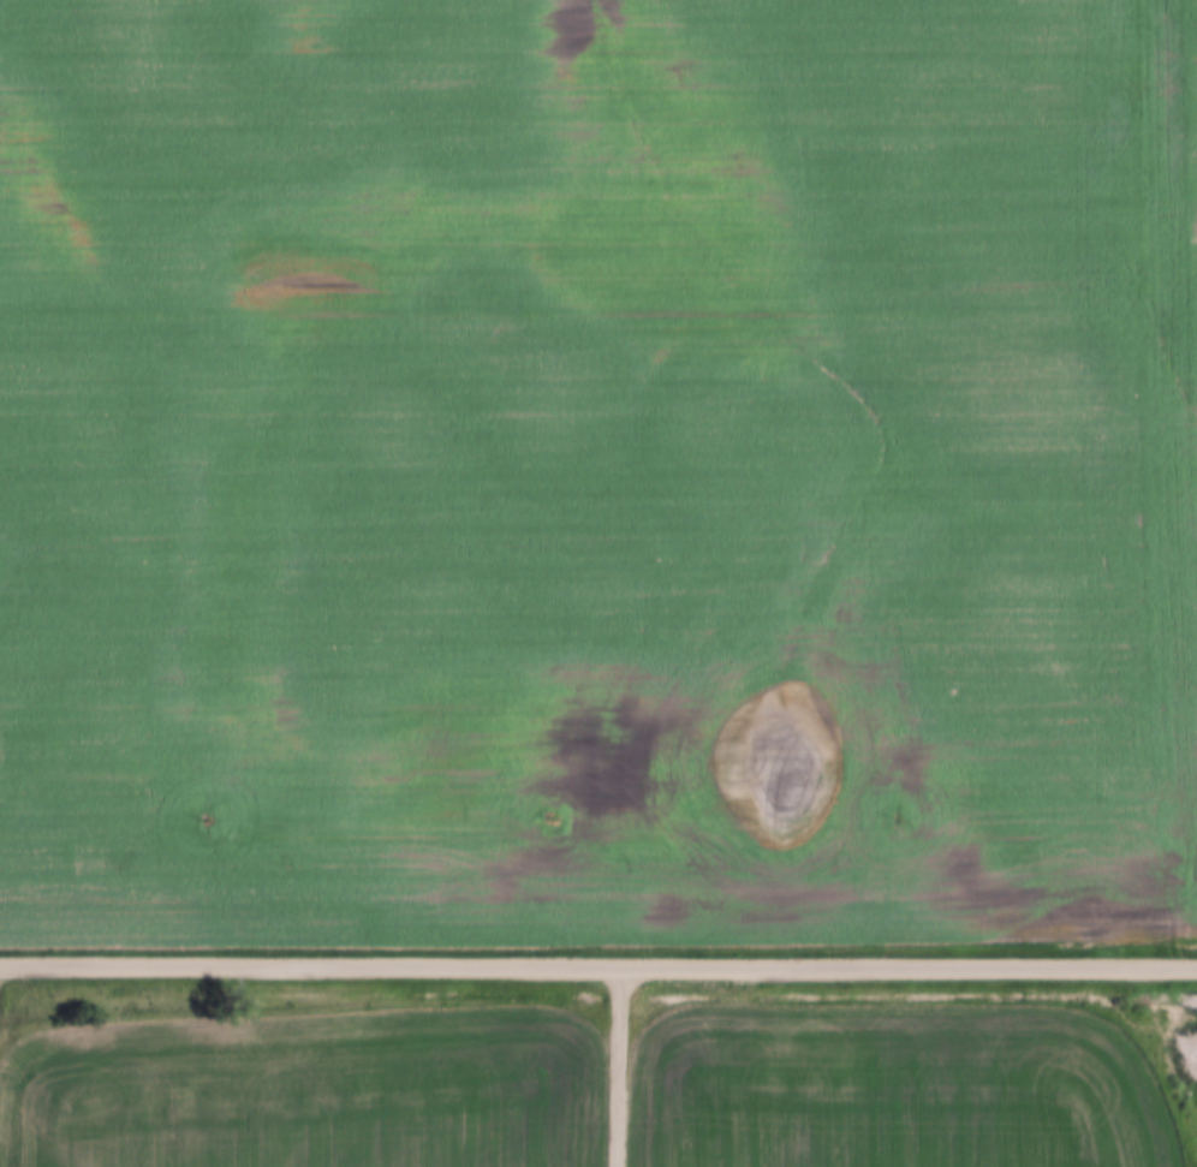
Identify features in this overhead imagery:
road: (597, 967)

